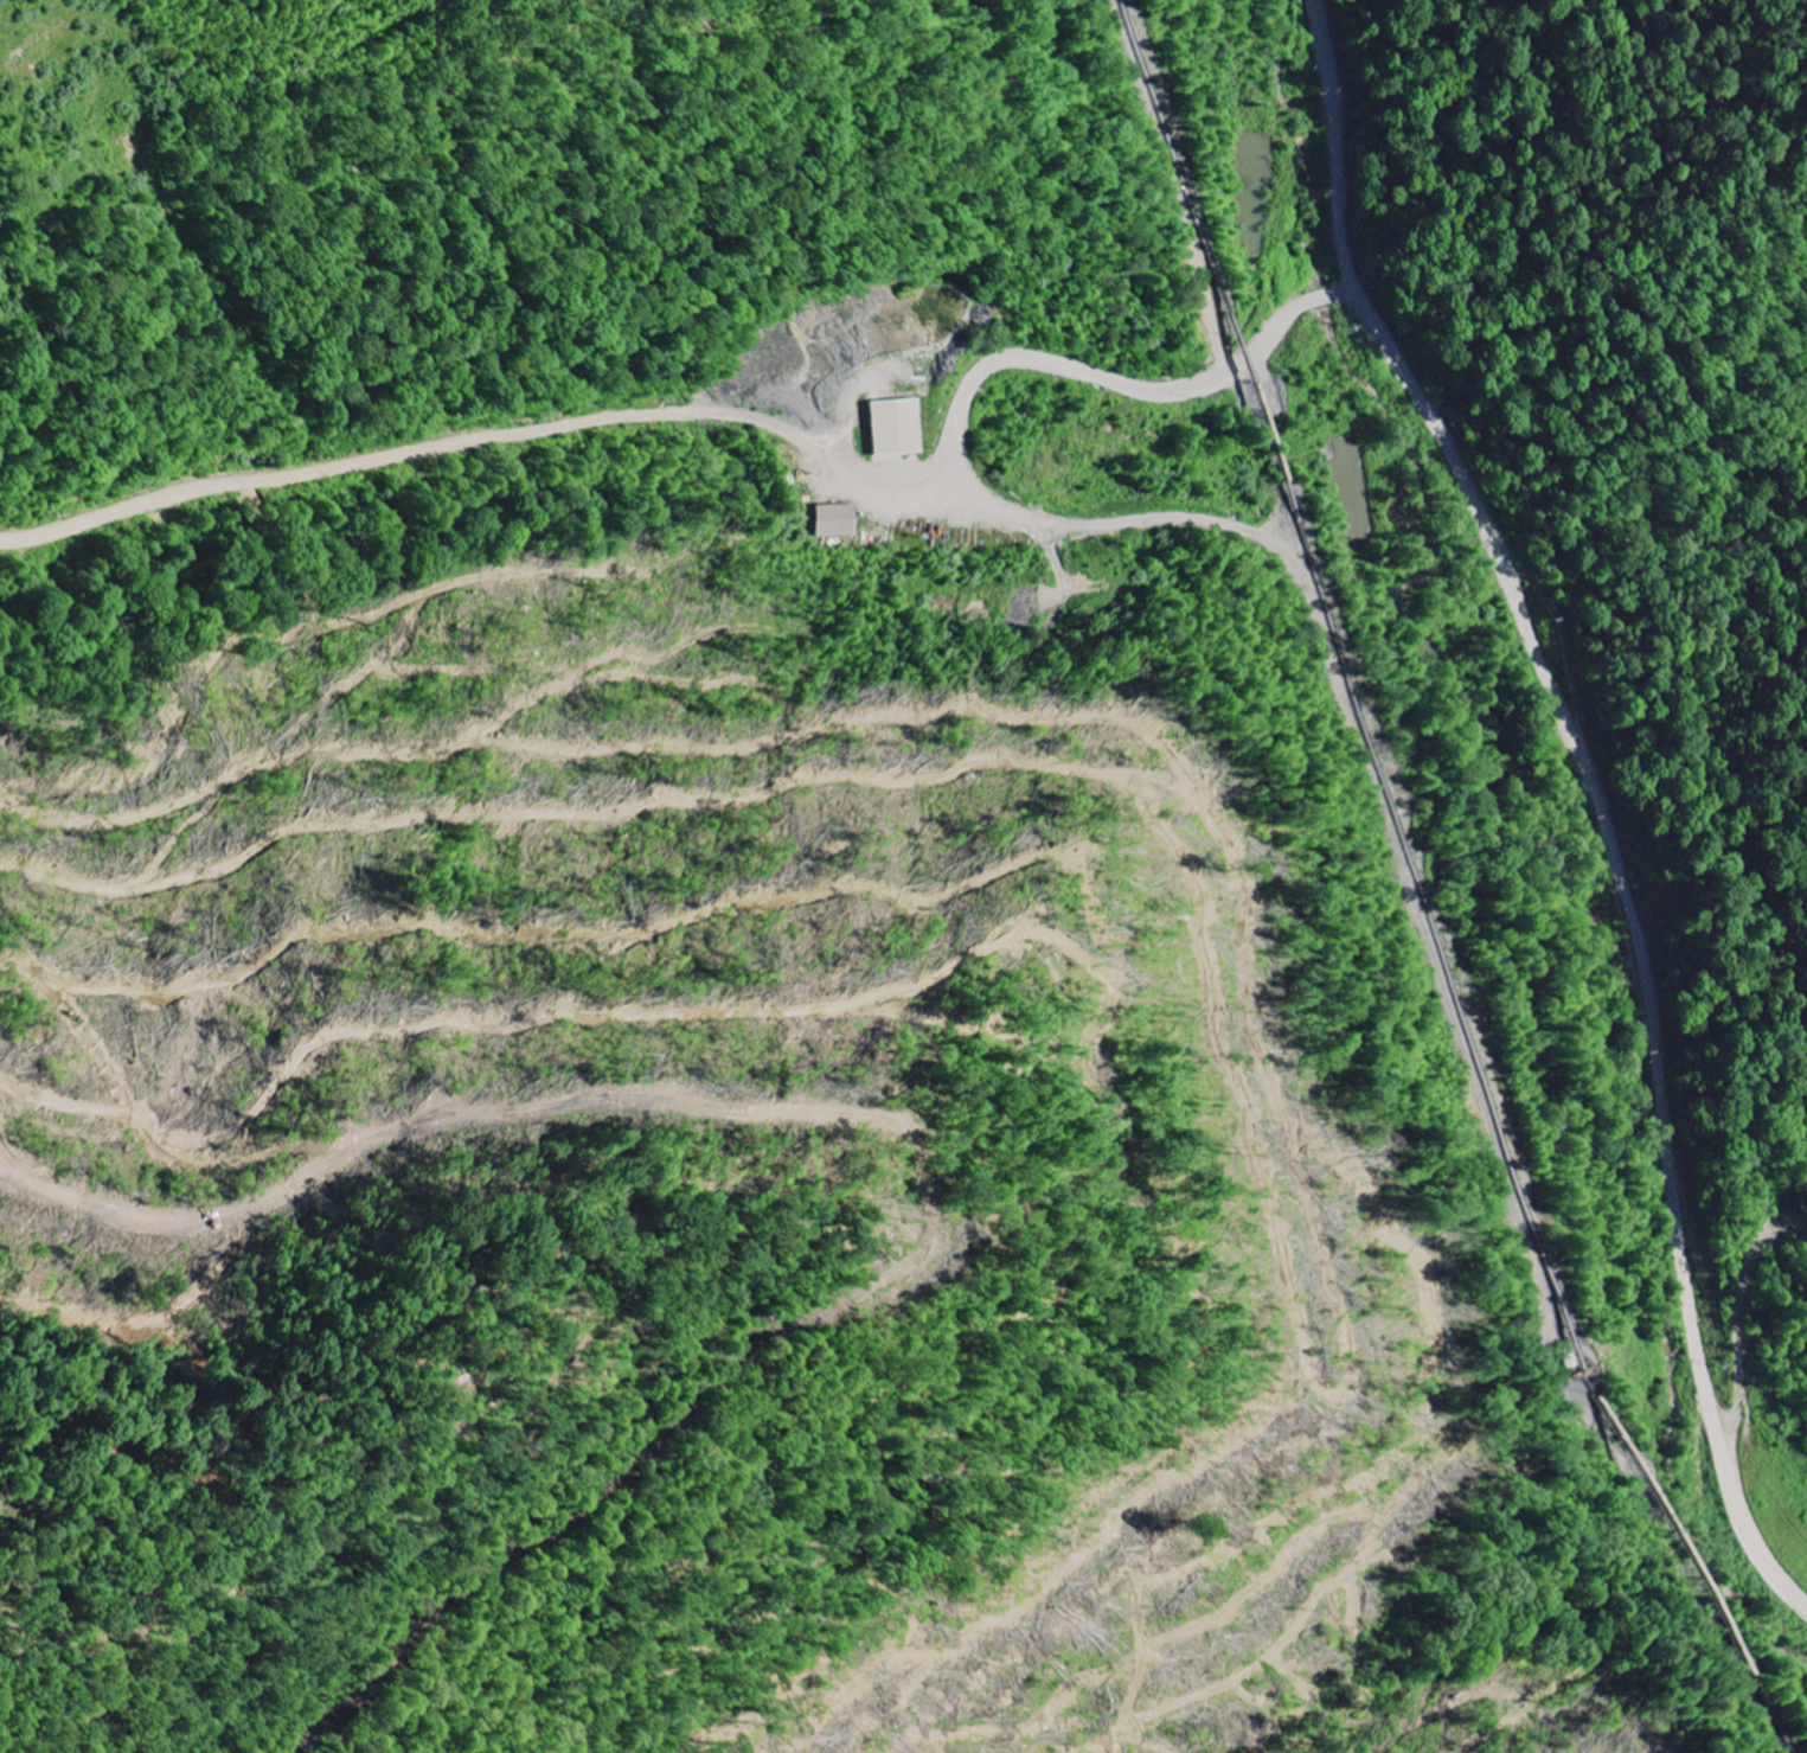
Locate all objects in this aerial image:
road: (511, 252)
building: (889, 428)
building: (832, 520)
road: (1482, 741)

